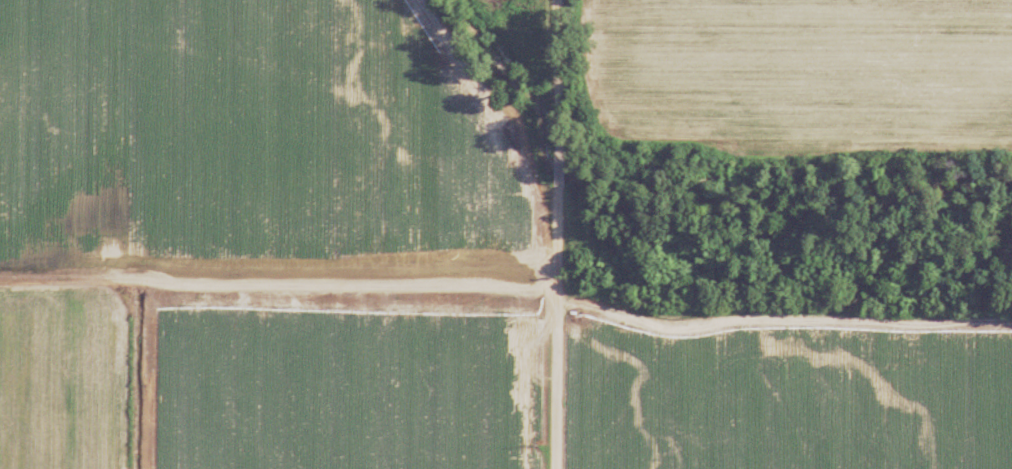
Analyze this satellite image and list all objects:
road: (560, 234)

